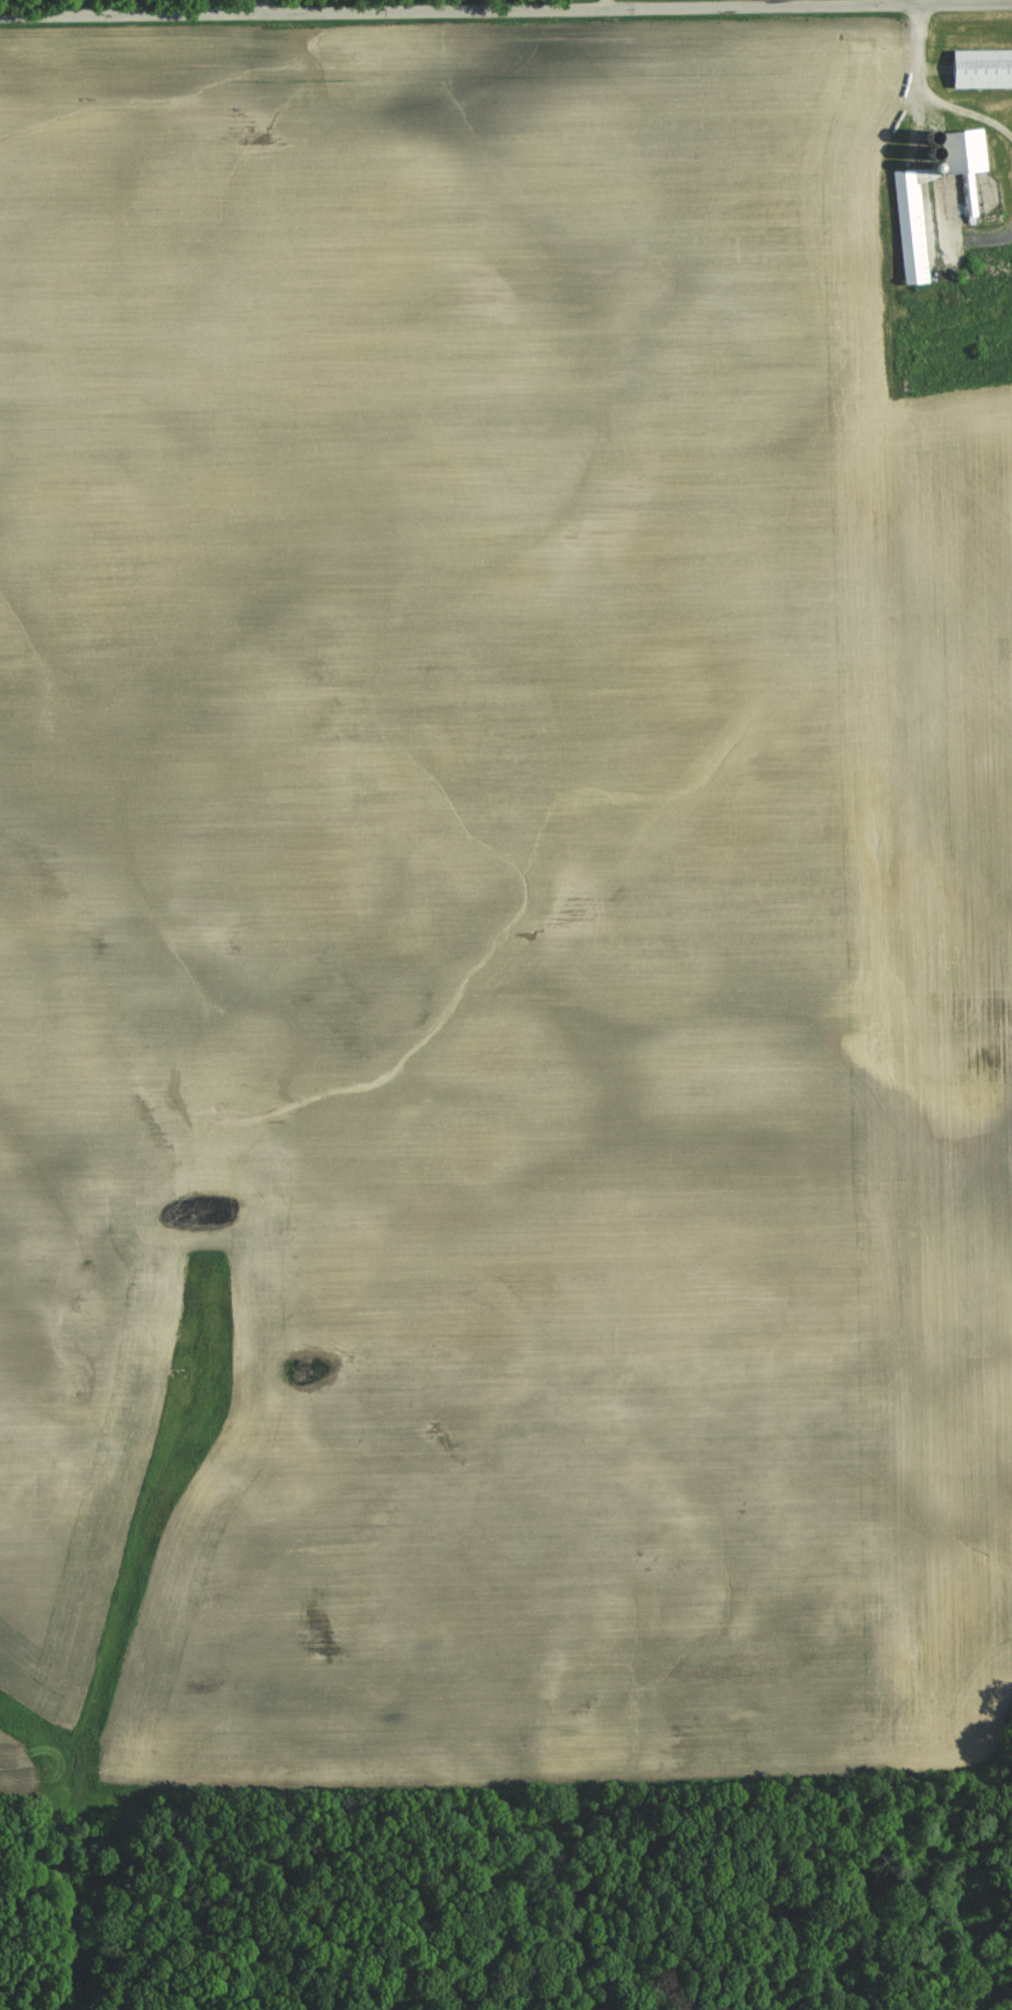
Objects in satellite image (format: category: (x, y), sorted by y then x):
road: (254, 8)
road: (506, 13)
building: (979, 68)
road: (926, 97)
building: (962, 161)
building: (908, 220)

